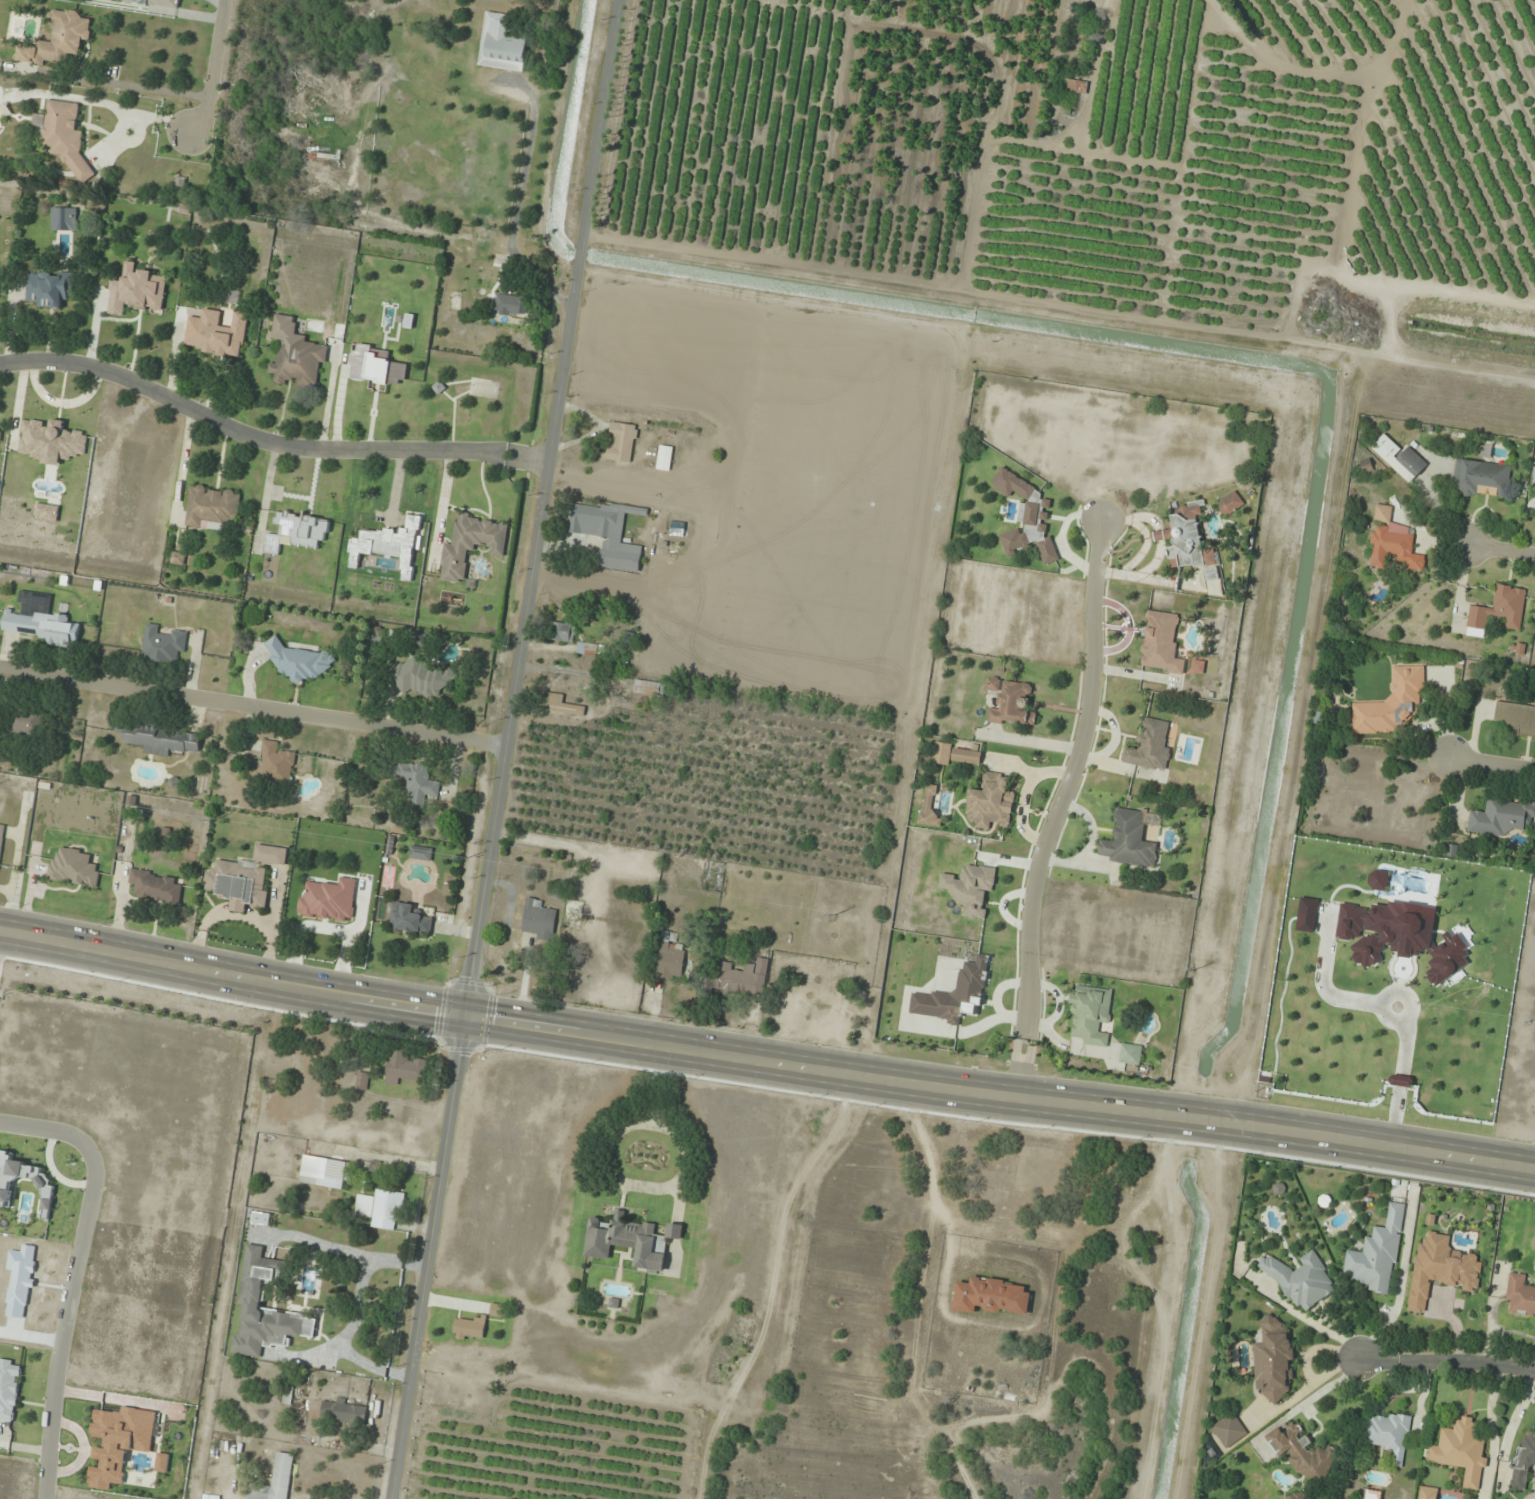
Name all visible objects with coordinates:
building: (59, 40)
building: (503, 44)
building: (1073, 87)
building: (65, 136)
building: (64, 219)
building: (50, 288)
building: (137, 291)
building: (230, 295)
building: (511, 304)
building: (219, 334)
building: (300, 363)
building: (0, 430)
road: (265, 442)
building: (622, 442)
building: (665, 458)
building: (1400, 458)
building: (1534, 476)
building: (1482, 478)
building: (1230, 504)
building: (212, 507)
building: (1383, 514)
building: (1028, 518)
building: (600, 520)
building: (1186, 539)
building: (390, 543)
building: (1394, 548)
building: (456, 550)
road: (1500, 550)
building: (621, 556)
building: (179, 558)
building: (1500, 608)
building: (39, 620)
building: (563, 632)
building: (423, 641)
building: (1161, 643)
building: (163, 644)
building: (300, 663)
building: (1198, 666)
building: (421, 678)
building: (650, 688)
building: (1011, 702)
building: (1393, 704)
building: (560, 705)
road: (251, 708)
building: (1514, 718)
building: (27, 722)
building: (161, 739)
building: (1150, 746)
road: (502, 748)
building: (967, 756)
building: (277, 764)
road: (1495, 766)
building: (417, 782)
building: (991, 802)
road: (1055, 806)
building: (930, 810)
building: (1502, 816)
building: (1, 839)
building: (1128, 841)
building: (421, 853)
building: (271, 855)
building: (74, 868)
building: (239, 884)
building: (155, 887)
building: (970, 888)
building: (574, 909)
building: (409, 920)
building: (538, 920)
building: (672, 957)
road: (233, 973)
building: (972, 976)
building: (741, 978)
building: (1091, 1015)
traffic signals: (466, 1018)
building: (1130, 1054)
building: (404, 1067)
building: (362, 1081)
road: (1000, 1093)
road: (53, 1129)
building: (326, 1172)
building: (382, 1209)
building: (261, 1218)
building: (629, 1240)
building: (1378, 1255)
building: (1442, 1269)
building: (1303, 1281)
building: (317, 1287)
building: (252, 1293)
building: (1520, 1295)
building: (993, 1296)
building: (499, 1310)
building: (469, 1328)
road: (61, 1329)
building: (1274, 1359)
road: (1448, 1363)
building: (9, 1389)
building: (344, 1411)
building: (1229, 1430)
building: (1388, 1432)
building: (1461, 1451)
building: (1303, 1453)
building: (1523, 1459)
building: (277, 1480)
building: (1428, 1493)
building: (1372, 1494)
building: (1299, 1496)

